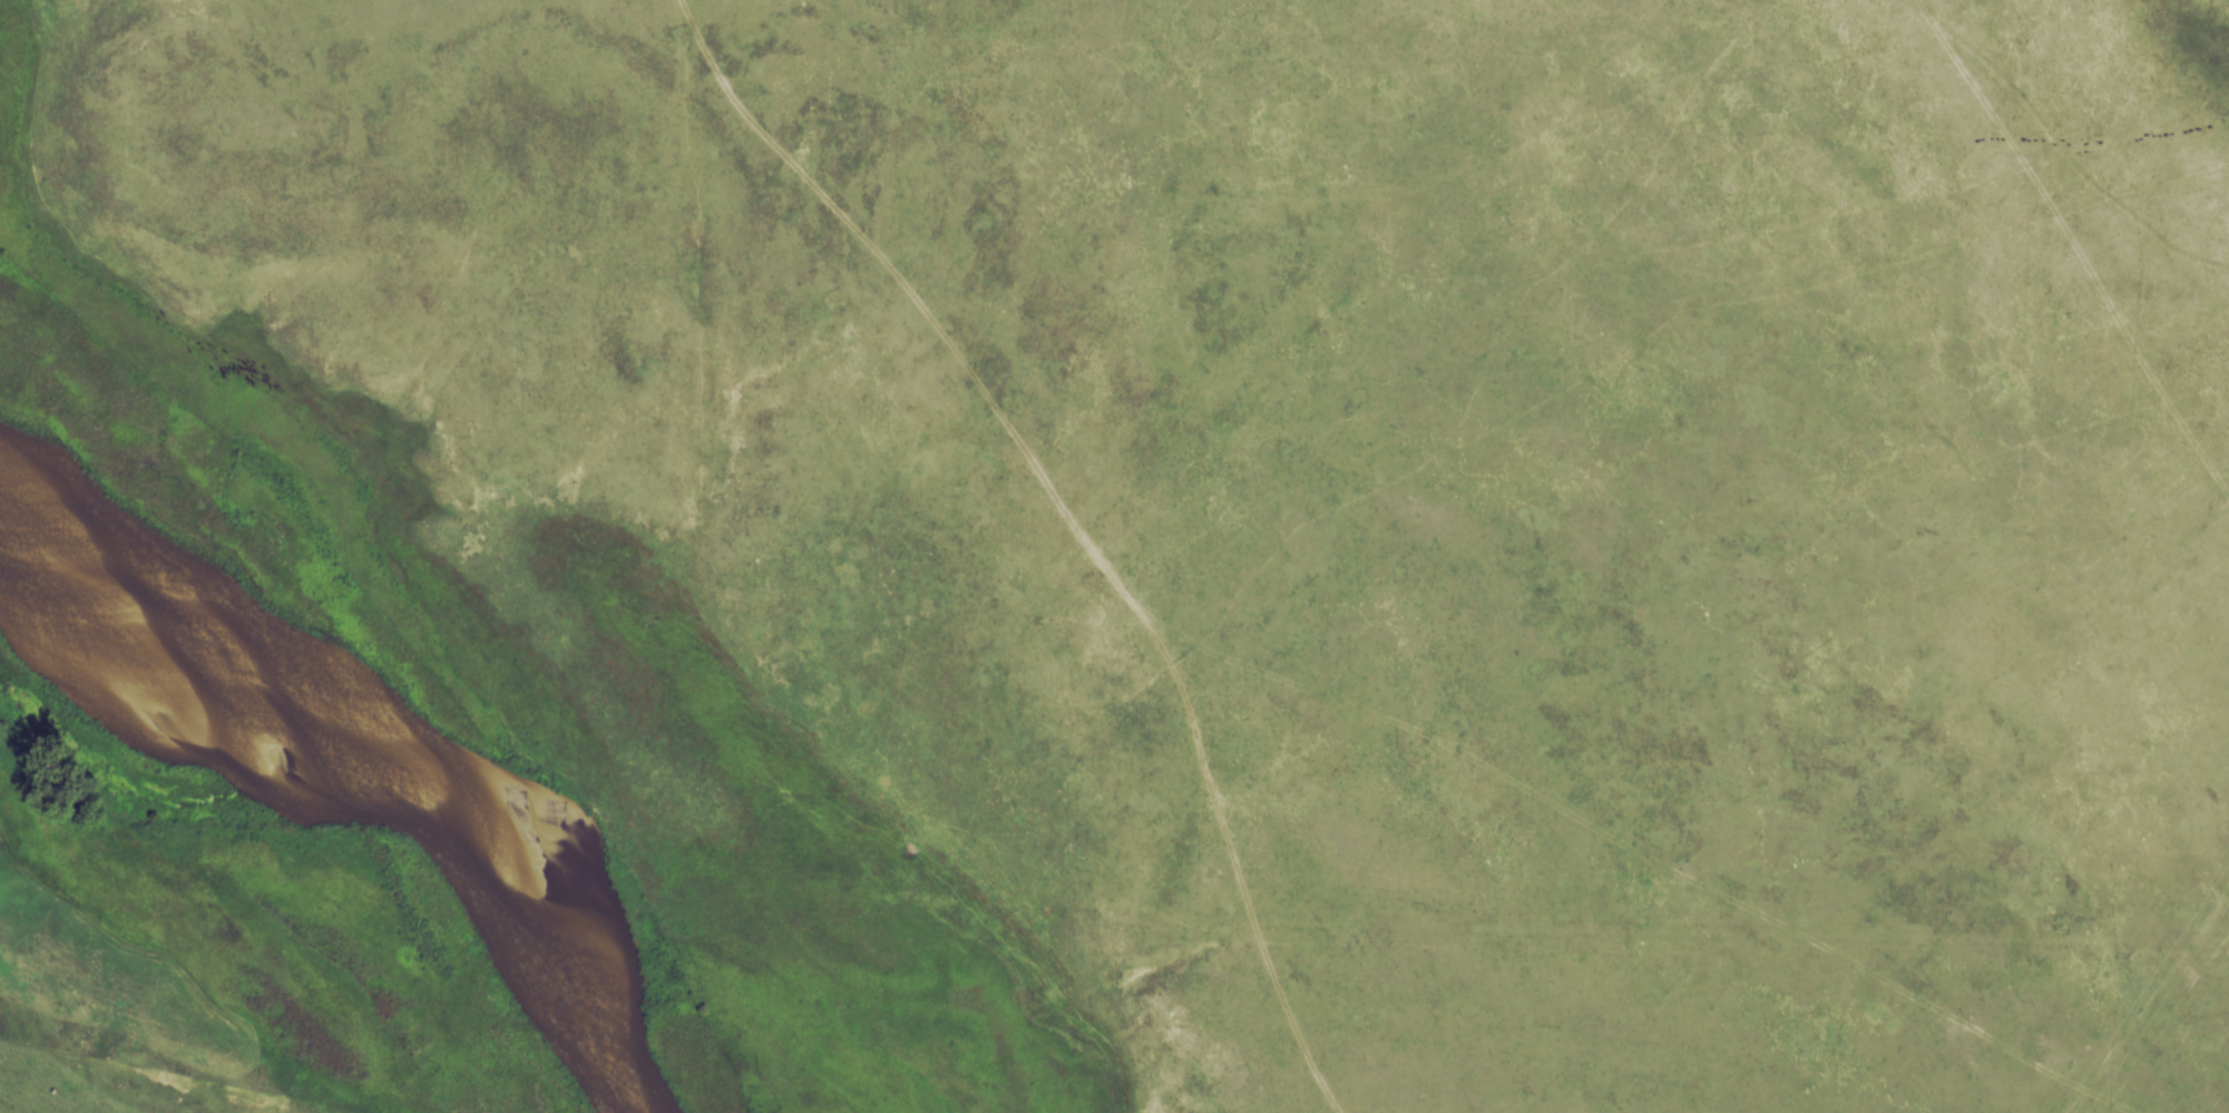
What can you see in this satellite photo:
river: (395, 722)

